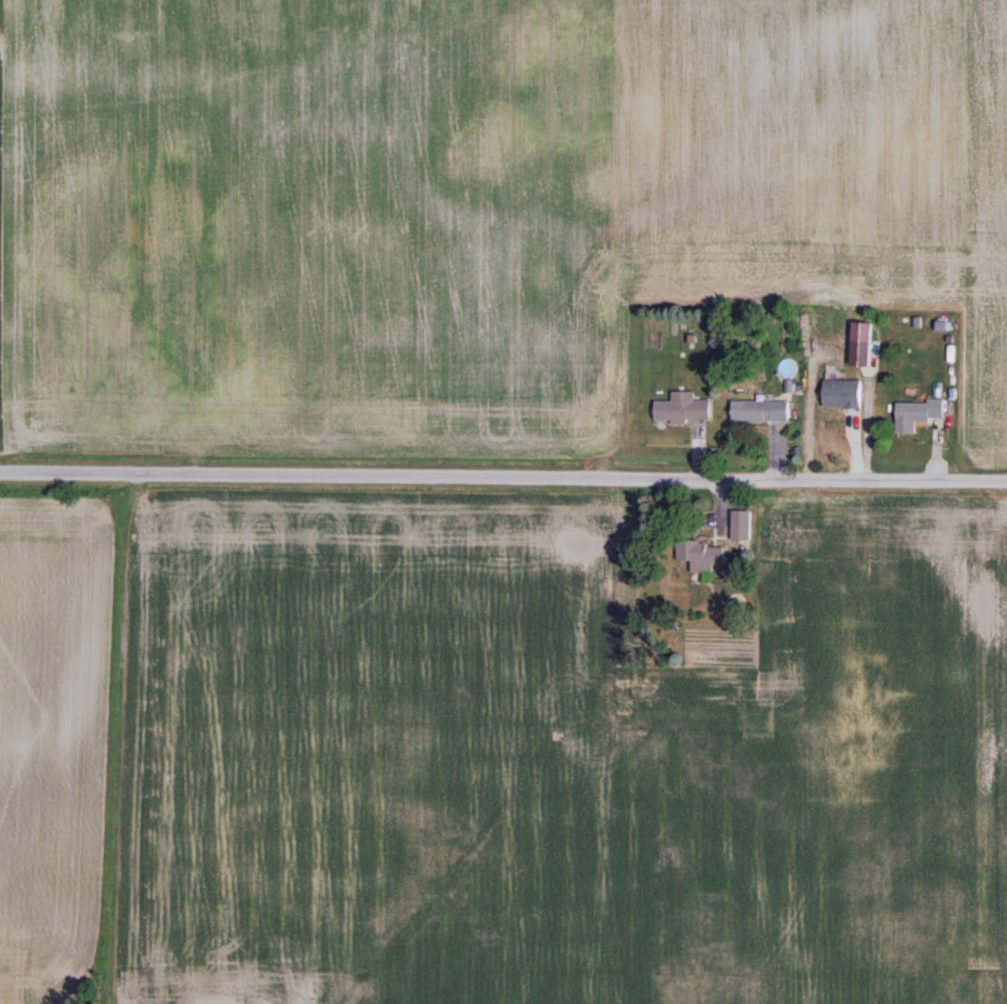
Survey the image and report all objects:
building: (861, 351)
building: (841, 395)
building: (682, 409)
building: (760, 412)
building: (917, 415)
road: (503, 471)
building: (740, 525)
building: (701, 555)

